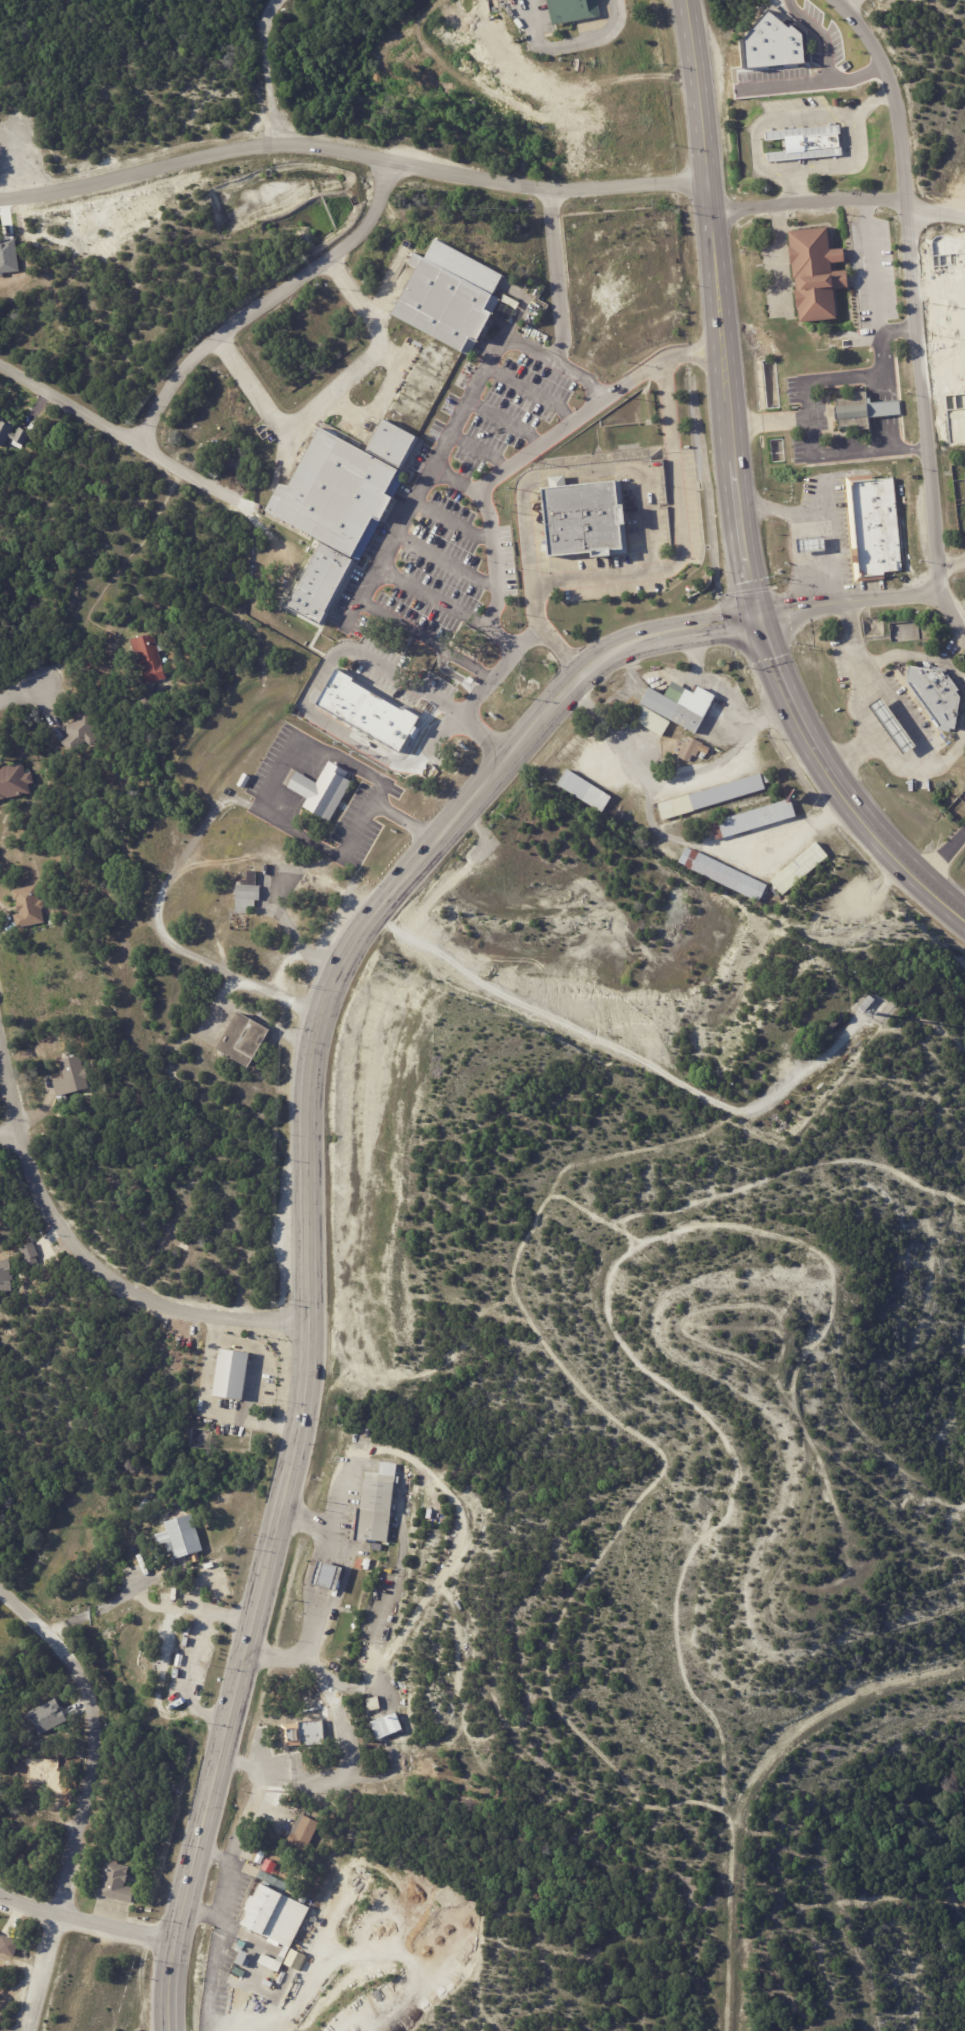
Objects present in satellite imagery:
road: (856, 7)
building: (574, 11)
road: (571, 44)
road: (826, 62)
road: (267, 68)
building: (836, 102)
road: (798, 117)
building: (808, 147)
road: (350, 155)
road: (840, 166)
road: (18, 167)
road: (703, 168)
road: (793, 188)
road: (837, 205)
road: (779, 258)
road: (873, 274)
building: (819, 275)
road: (912, 287)
road: (268, 301)
road: (561, 342)
road: (819, 388)
road: (534, 390)
road: (324, 394)
building: (861, 414)
road: (508, 418)
road: (130, 433)
building: (13, 434)
building: (381, 434)
road: (483, 446)
road: (916, 458)
road: (846, 461)
building: (883, 468)
road: (458, 475)
road: (583, 475)
road: (732, 478)
road: (825, 499)
road: (481, 502)
road: (407, 513)
road: (455, 516)
building: (589, 519)
road: (818, 519)
road: (671, 525)
building: (880, 525)
building: (815, 543)
gas station: (815, 543)
road: (448, 555)
road: (952, 572)
road: (848, 601)
road: (953, 616)
road: (335, 648)
building: (149, 658)
road: (856, 671)
road: (642, 683)
road: (724, 690)
road: (21, 694)
building: (935, 696)
building: (683, 705)
road: (898, 705)
building: (368, 710)
building: (650, 719)
building: (896, 724)
gas station: (896, 724)
building: (82, 730)
building: (694, 749)
road: (894, 755)
road: (289, 758)
road: (709, 764)
building: (14, 781)
building: (246, 781)
road: (837, 783)
building: (325, 791)
building: (586, 792)
building: (715, 798)
building: (762, 819)
road: (680, 839)
building: (269, 850)
road: (943, 855)
building: (802, 870)
building: (725, 875)
building: (206, 884)
building: (247, 897)
building: (28, 907)
road: (281, 909)
road: (158, 921)
road: (215, 1004)
building: (868, 1004)
building: (885, 1007)
building: (240, 1038)
building: (72, 1076)
road: (9, 1132)
road: (308, 1220)
building: (29, 1254)
road: (95, 1254)
building: (5, 1275)
road: (259, 1358)
building: (232, 1374)
road: (209, 1405)
road: (346, 1511)
building: (377, 1513)
building: (183, 1537)
road: (314, 1569)
building: (331, 1582)
road: (126, 1590)
road: (192, 1656)
building: (372, 1703)
building: (45, 1716)
building: (383, 1728)
building: (305, 1737)
road: (345, 1743)
road: (377, 1778)
road: (751, 1780)
road: (85, 1795)
building: (304, 1834)
road: (215, 1855)
building: (117, 1884)
road: (224, 1897)
building: (306, 1898)
road: (203, 1913)
building: (276, 1919)
road: (88, 1920)
building: (8, 1945)
road: (355, 1952)
building: (245, 1960)
building: (240, 1972)

